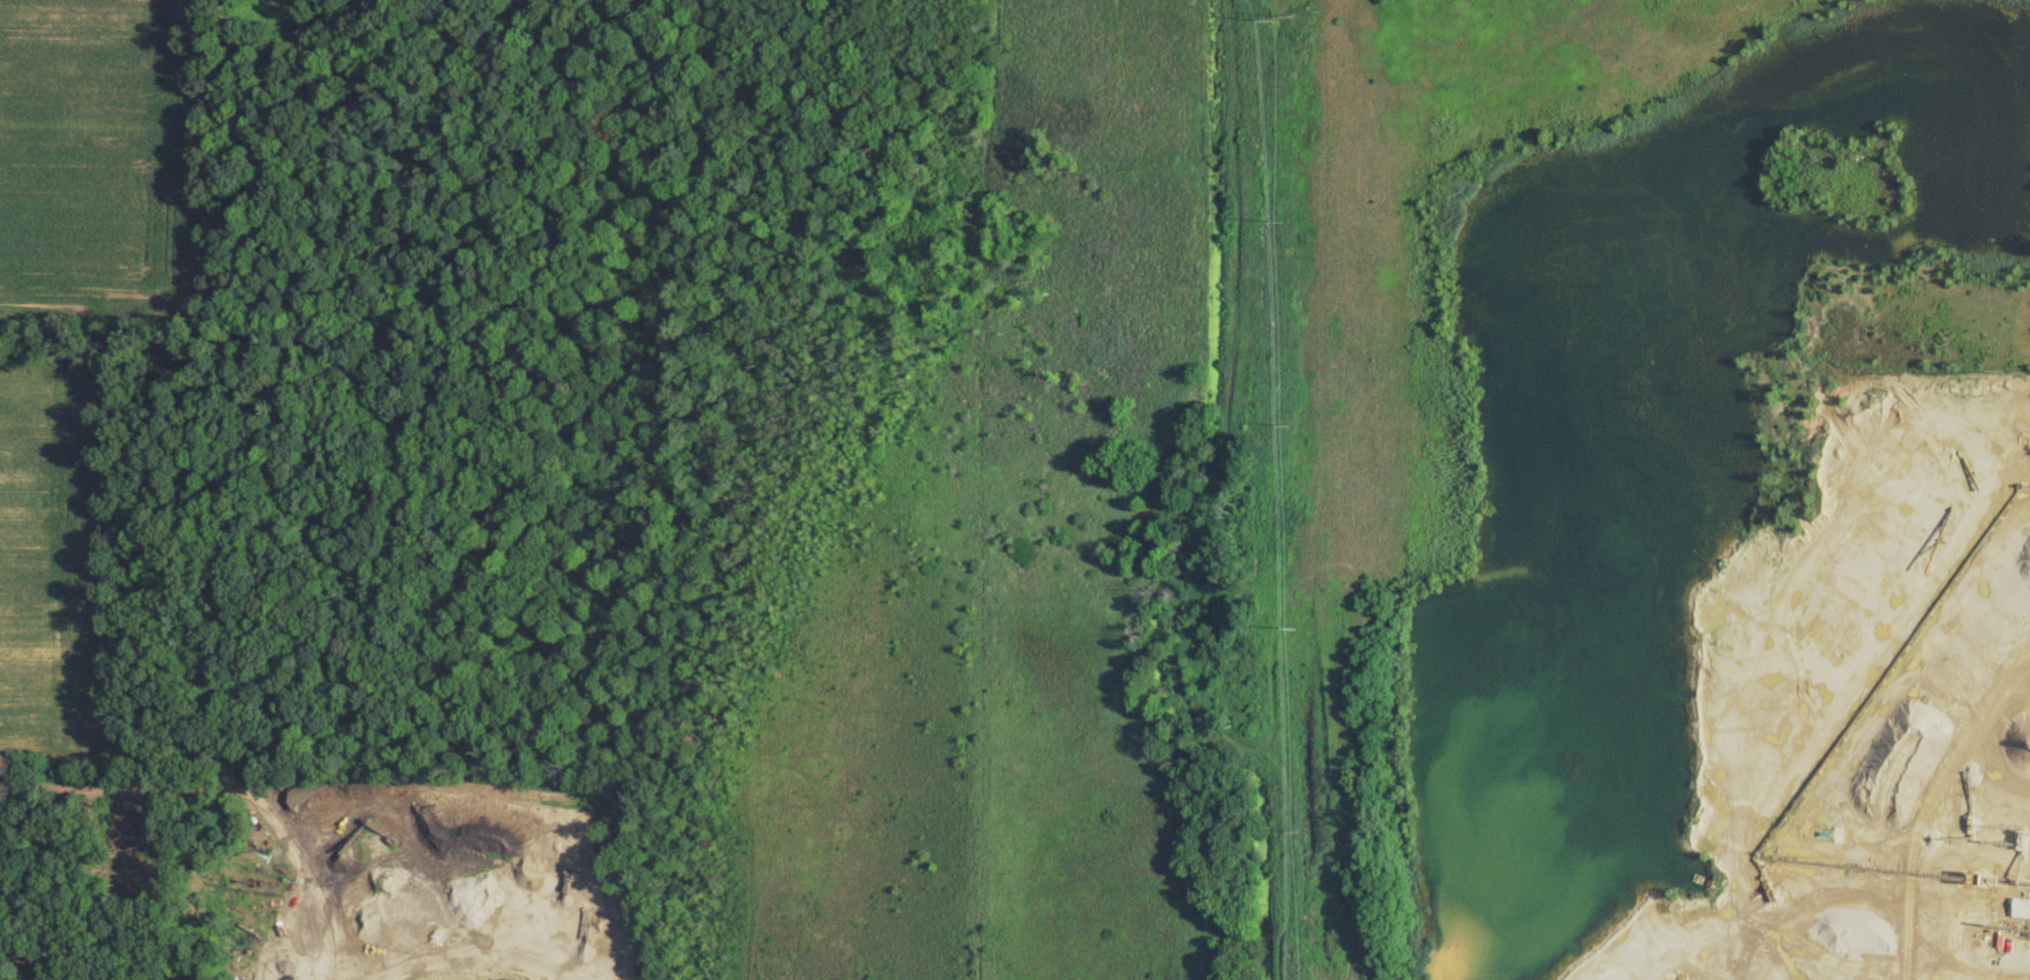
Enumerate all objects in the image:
building: (2025, 913)
road: (250, 972)

